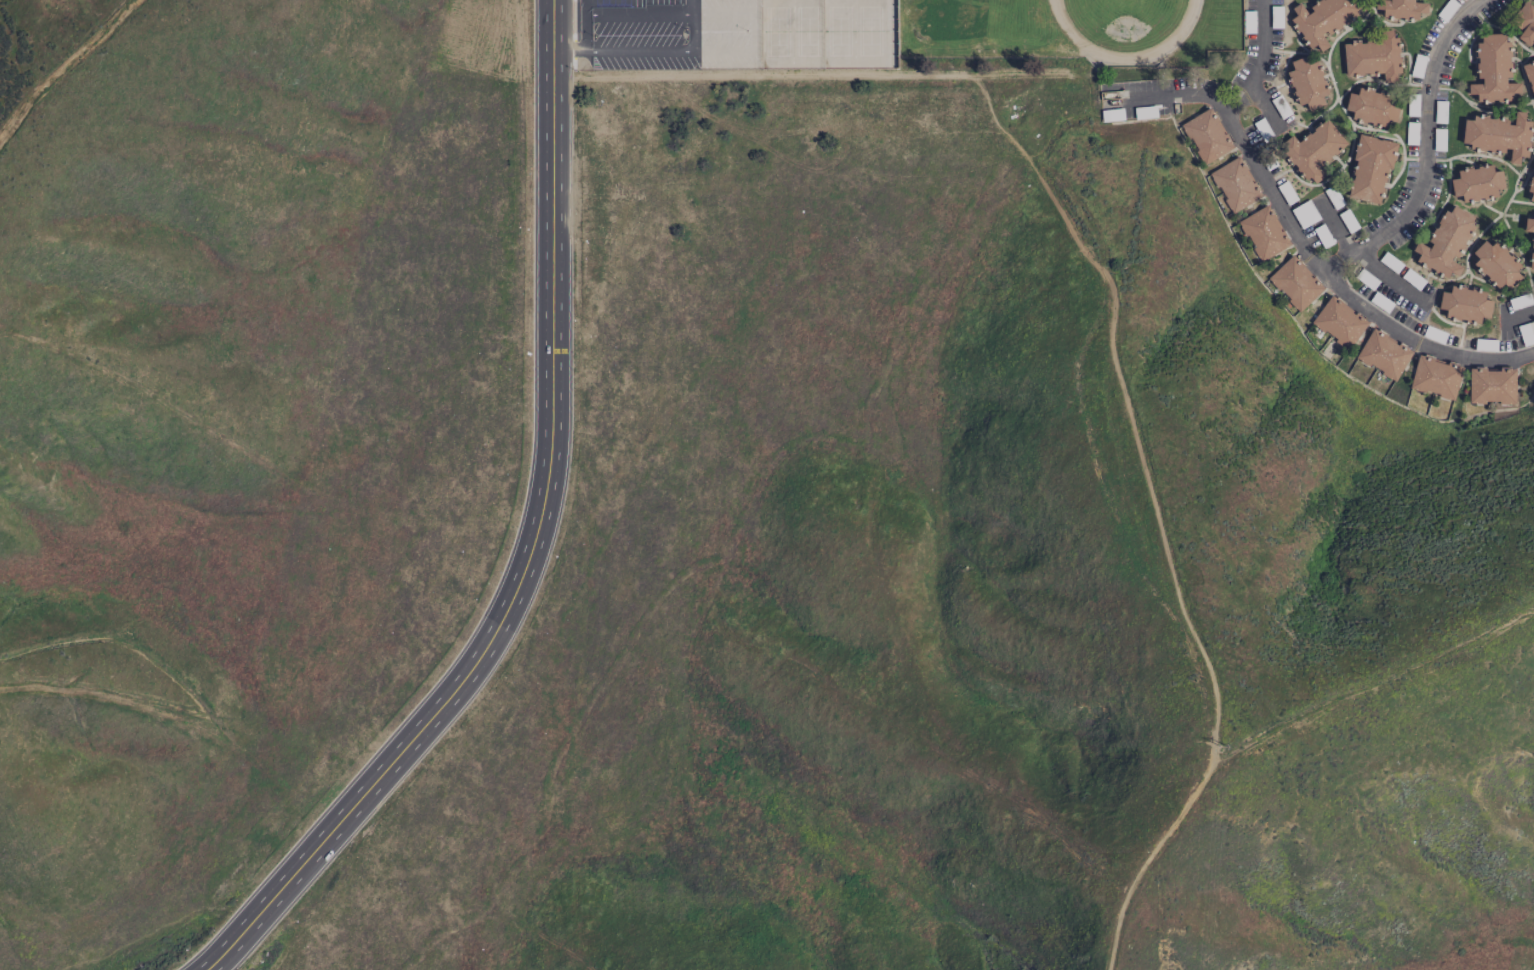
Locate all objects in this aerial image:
building: (1403, 8)
building: (1323, 20)
road: (693, 22)
building: (1525, 23)
road: (586, 24)
track: (1127, 24)
road: (644, 48)
road: (573, 49)
building: (1373, 56)
road: (1265, 60)
building: (1494, 69)
road: (68, 71)
building: (1530, 74)
building: (1308, 82)
building: (1373, 106)
building: (1206, 135)
building: (1499, 135)
building: (1314, 150)
road: (1430, 150)
building: (1370, 168)
building: (1477, 182)
building: (1235, 183)
building: (1532, 190)
building: (1529, 223)
road: (1333, 226)
road: (1306, 229)
building: (1263, 232)
building: (1446, 242)
building: (1532, 257)
building: (1496, 263)
road: (1387, 277)
building: (1295, 282)
building: (1465, 303)
road: (1111, 313)
road: (1522, 315)
building: (1339, 321)
building: (1384, 354)
building: (1436, 376)
building: (1492, 385)
road: (530, 539)

